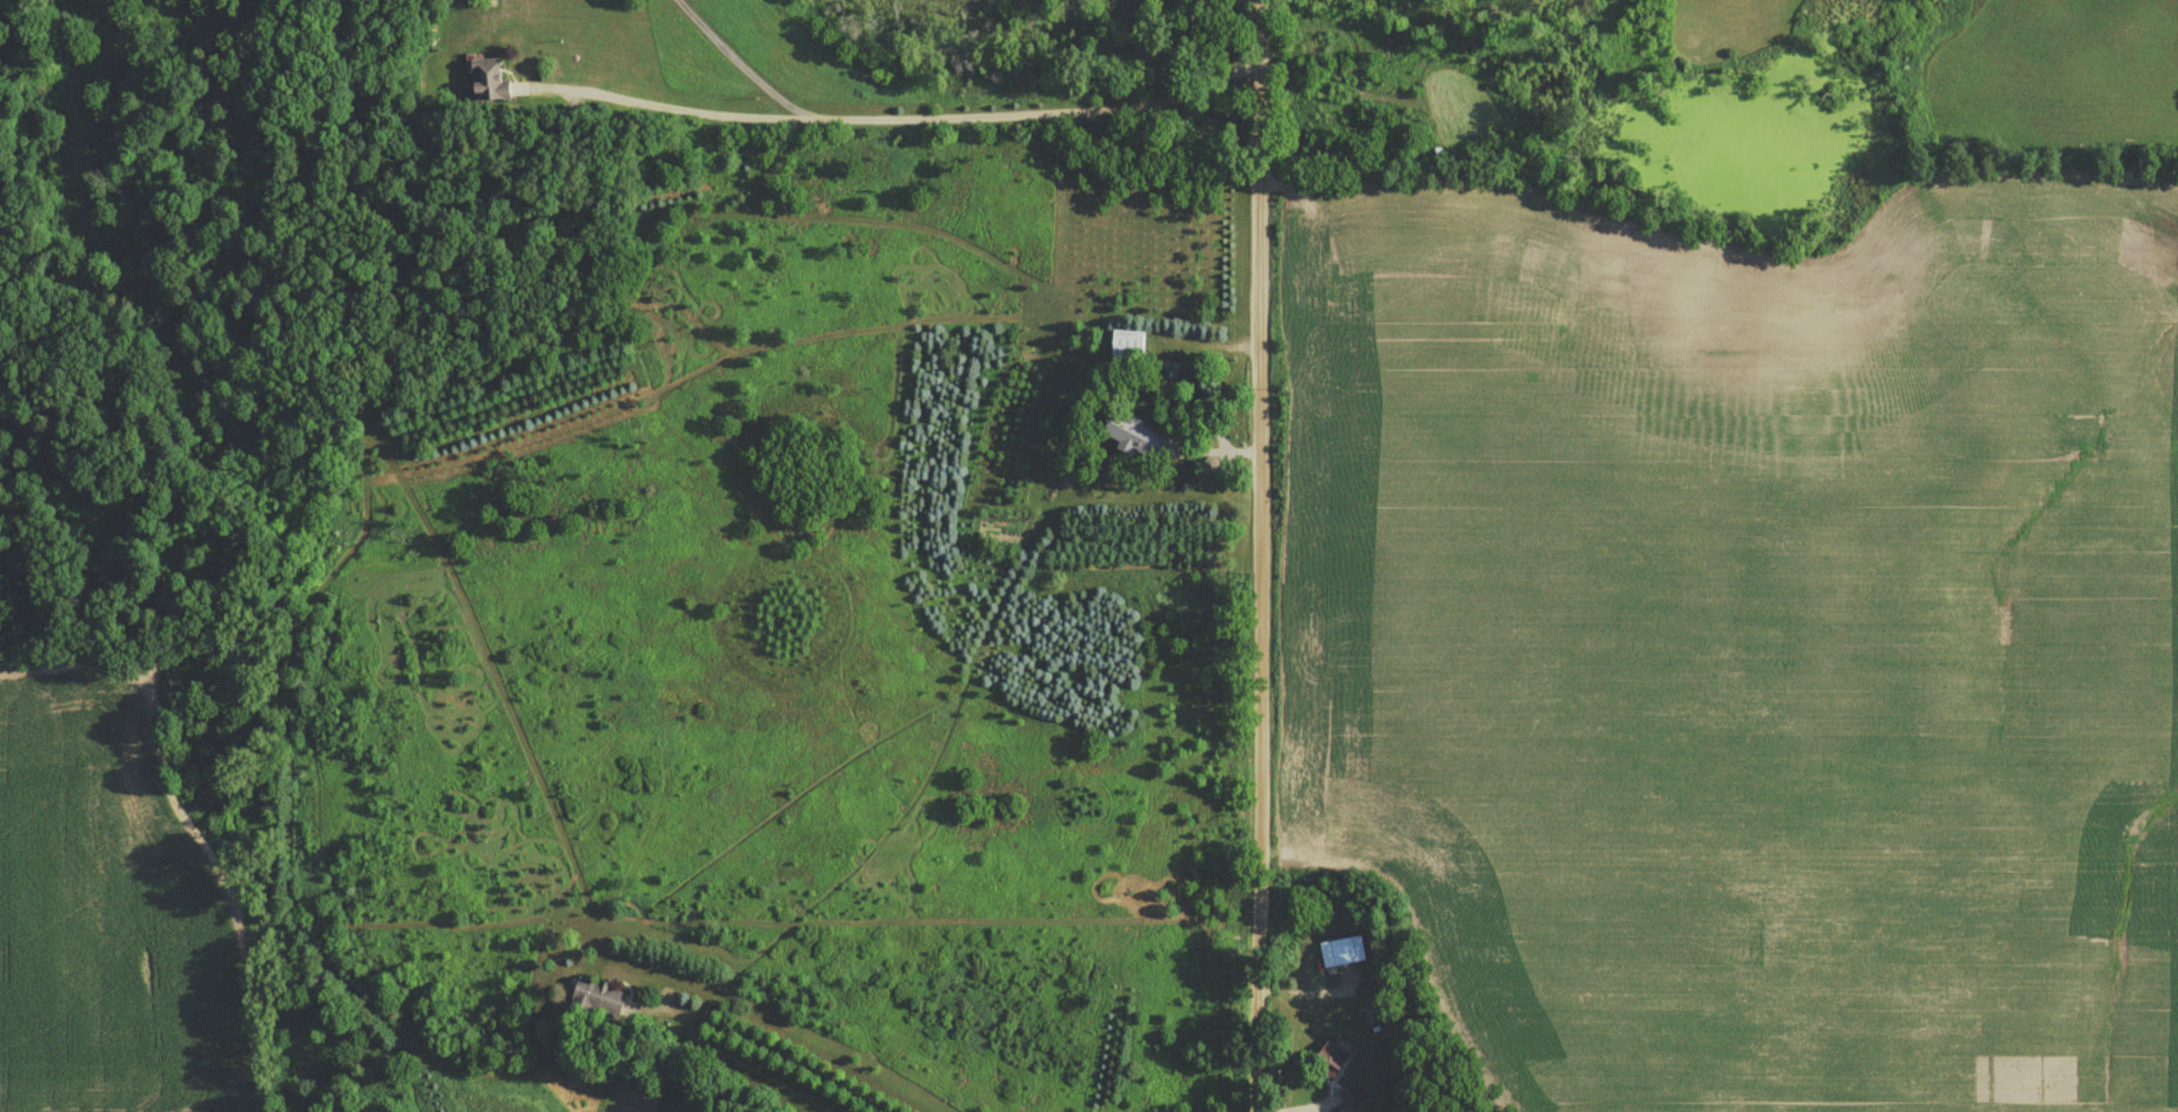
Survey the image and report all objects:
building: (485, 81)
road: (668, 104)
road: (954, 111)
building: (1125, 346)
building: (1131, 434)
road: (1259, 555)
building: (1340, 952)
building: (595, 998)
building: (1329, 1057)
building: (1350, 1093)

